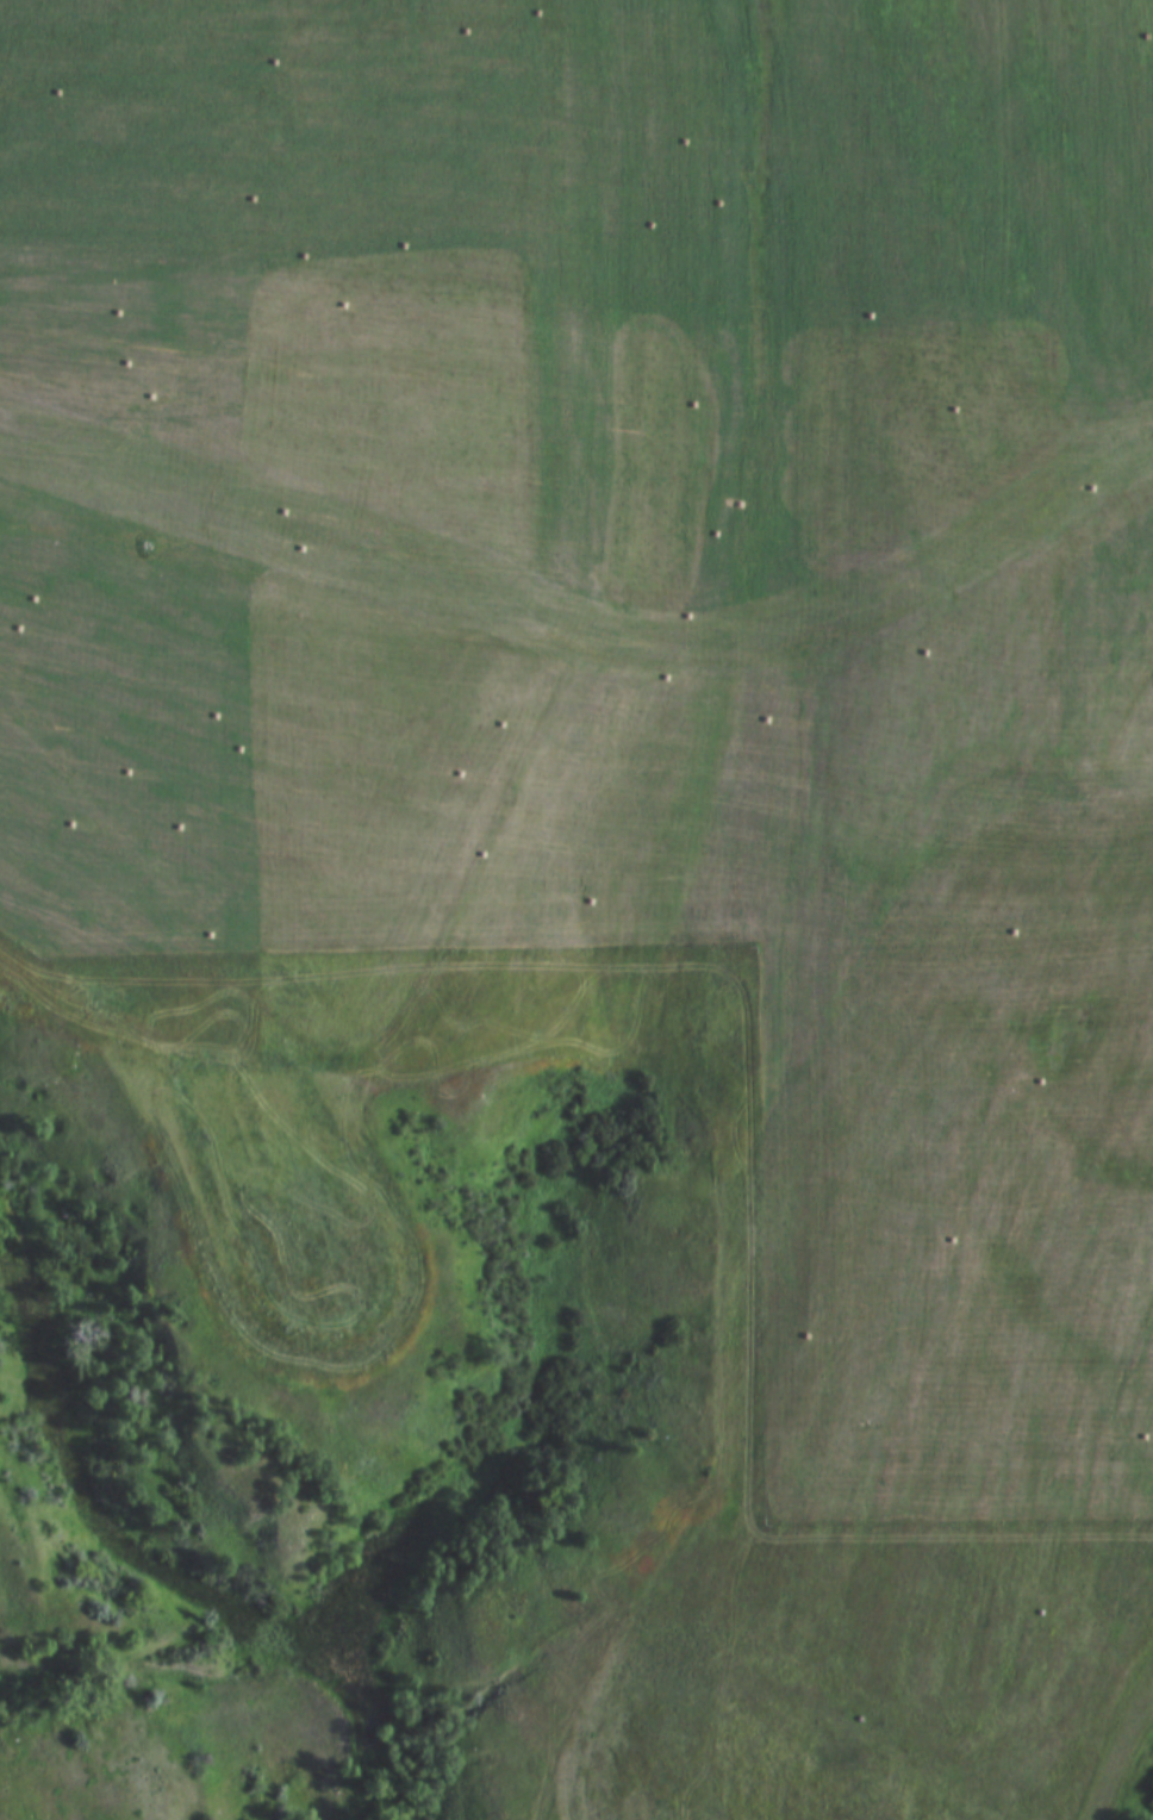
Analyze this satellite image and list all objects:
quarry: (242, 600)

